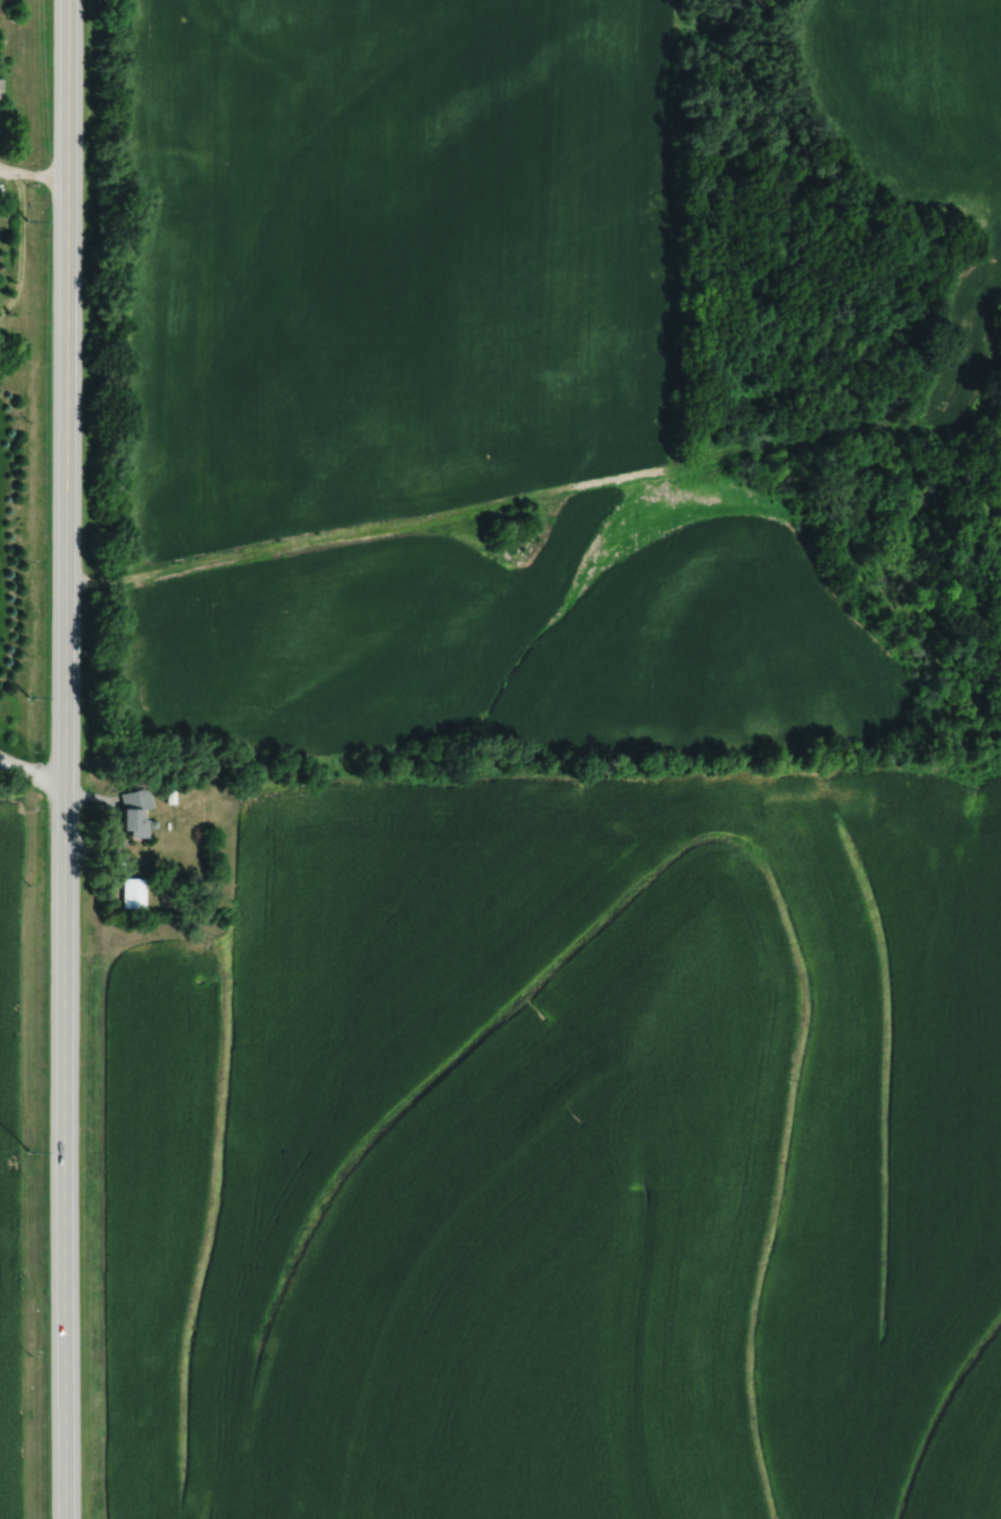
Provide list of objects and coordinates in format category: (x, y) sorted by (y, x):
road: (33, 178)
power tower: (26, 221)
road: (494, 503)
building: (504, 537)
power tower: (27, 696)
road: (1, 759)
road: (64, 759)
road: (1, 760)
road: (32, 773)
road: (92, 795)
building: (130, 811)
building: (130, 893)
power tower: (28, 1152)

